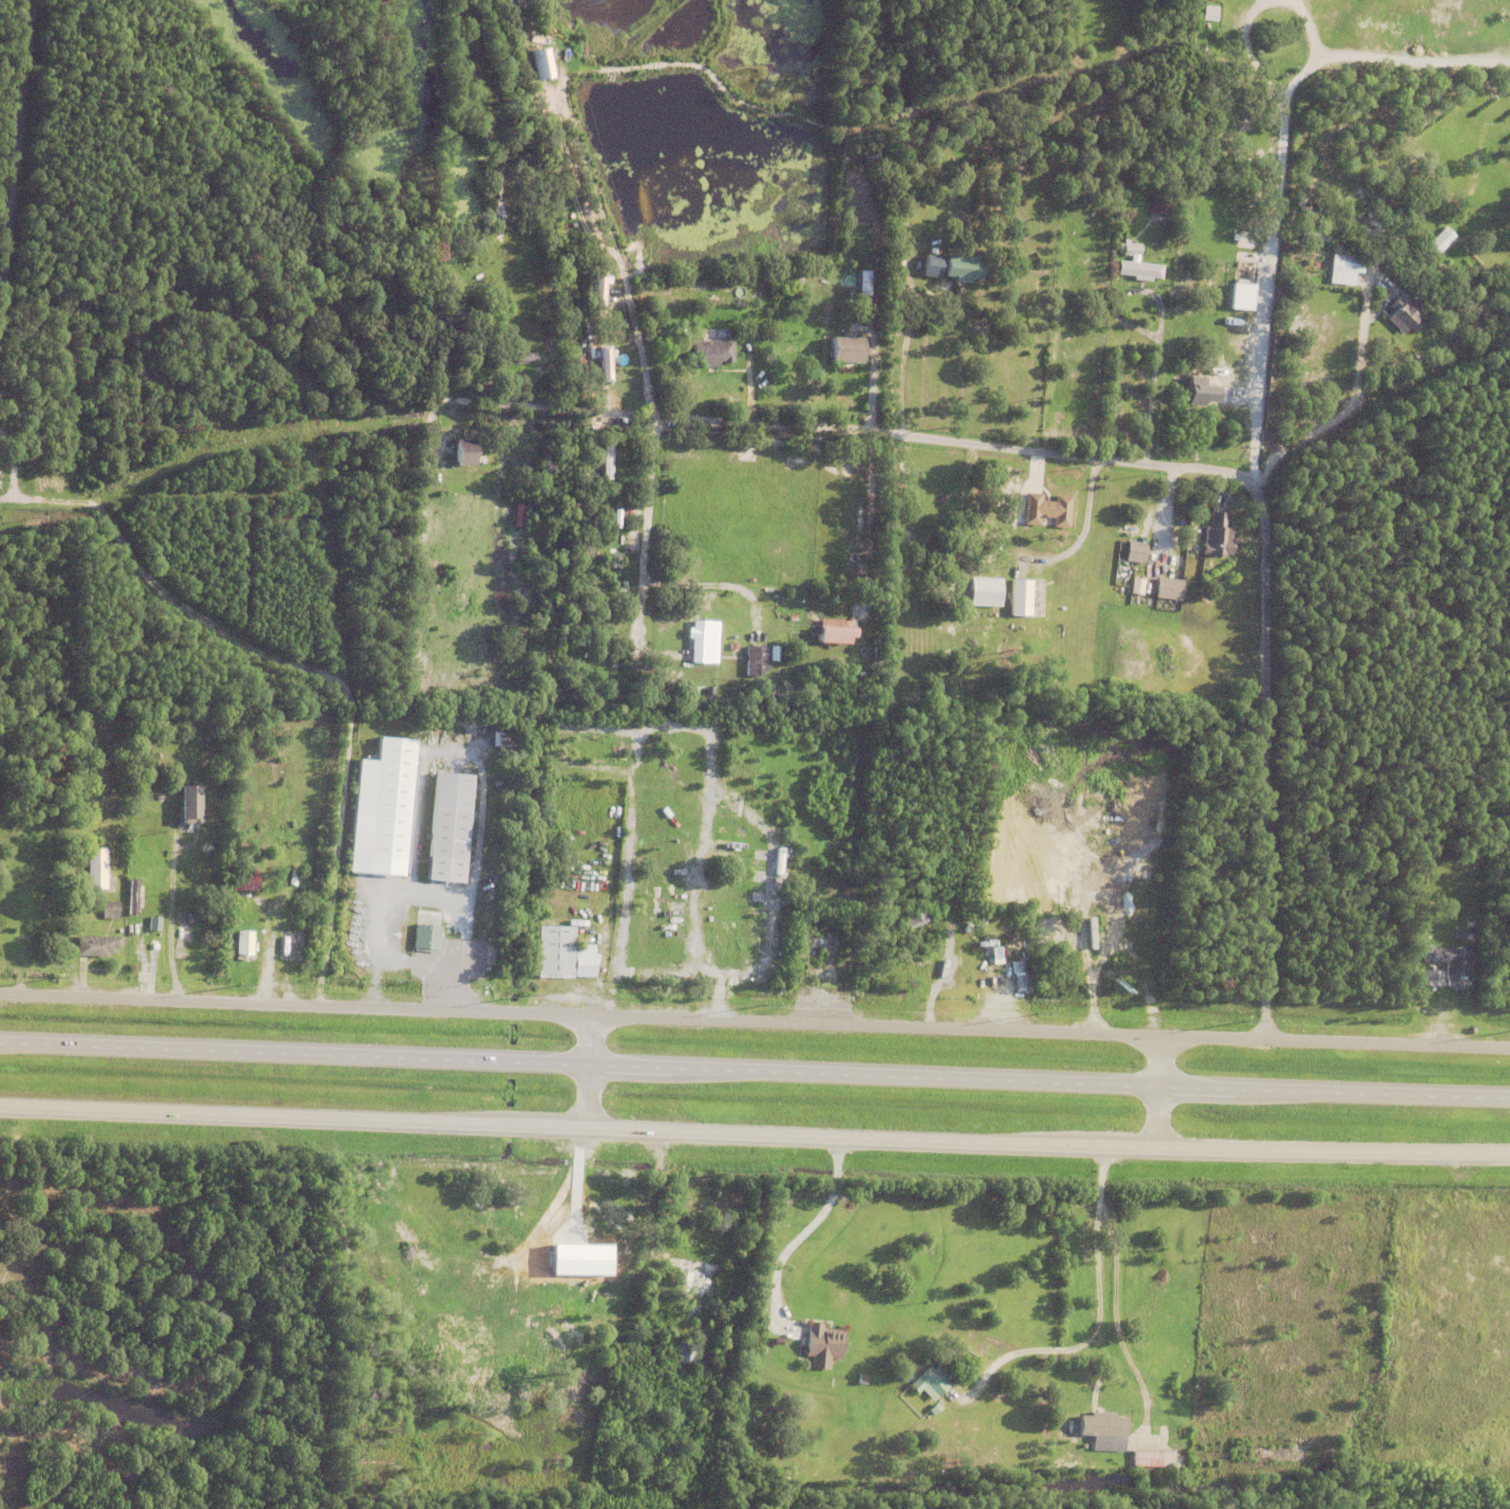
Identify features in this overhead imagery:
building: (511, 11)
building: (1209, 12)
building: (1283, 49)
building: (1229, 53)
building: (1356, 61)
building: (540, 66)
road: (14, 165)
building: (906, 184)
building: (895, 200)
building: (1160, 204)
building: (1165, 221)
building: (1440, 238)
building: (1245, 244)
building: (904, 245)
building: (1361, 247)
building: (1128, 250)
building: (451, 252)
building: (1346, 265)
building: (931, 267)
road: (196, 268)
building: (965, 268)
building: (1139, 271)
building: (1029, 284)
building: (1240, 287)
building: (602, 288)
building: (624, 292)
building: (712, 293)
building: (689, 295)
building: (600, 301)
building: (73, 310)
building: (864, 316)
building: (1405, 316)
building: (828, 317)
building: (859, 325)
building: (748, 331)
building: (917, 334)
building: (475, 343)
building: (359, 344)
building: (845, 352)
building: (712, 354)
building: (959, 355)
building: (517, 357)
building: (610, 362)
road: (646, 367)
road: (513, 394)
building: (19, 395)
building: (595, 432)
building: (467, 452)
road: (1145, 463)
building: (1042, 509)
building: (1211, 536)
building: (1131, 551)
building: (1138, 586)
building: (1164, 588)
building: (987, 592)
building: (1015, 597)
building: (833, 633)
building: (703, 643)
building: (773, 655)
building: (755, 663)
building: (764, 699)
building: (189, 808)
building: (384, 808)
building: (445, 829)
building: (93, 868)
building: (291, 879)
building: (244, 881)
building: (108, 882)
building: (106, 908)
building: (910, 919)
road: (169, 922)
building: (151, 923)
building: (24, 938)
building: (423, 938)
building: (1499, 941)
building: (93, 945)
building: (243, 946)
building: (552, 951)
building: (997, 954)
building: (821, 958)
building: (580, 961)
building: (1455, 966)
building: (1015, 969)
building: (1433, 977)
road: (754, 1021)
road: (754, 1069)
road: (589, 1073)
road: (1158, 1093)
road: (754, 1136)
building: (619, 1203)
building: (640, 1207)
road: (7, 1216)
building: (621, 1218)
road: (804, 1228)
road: (566, 1243)
building: (693, 1275)
building: (476, 1296)
building: (581, 1302)
road: (1099, 1320)
road: (561, 1324)
building: (775, 1341)
building: (819, 1346)
building: (681, 1352)
building: (857, 1380)
building: (927, 1382)
road: (1147, 1398)
building: (931, 1410)
road: (1232, 1428)
building: (1099, 1430)
building: (1148, 1457)

